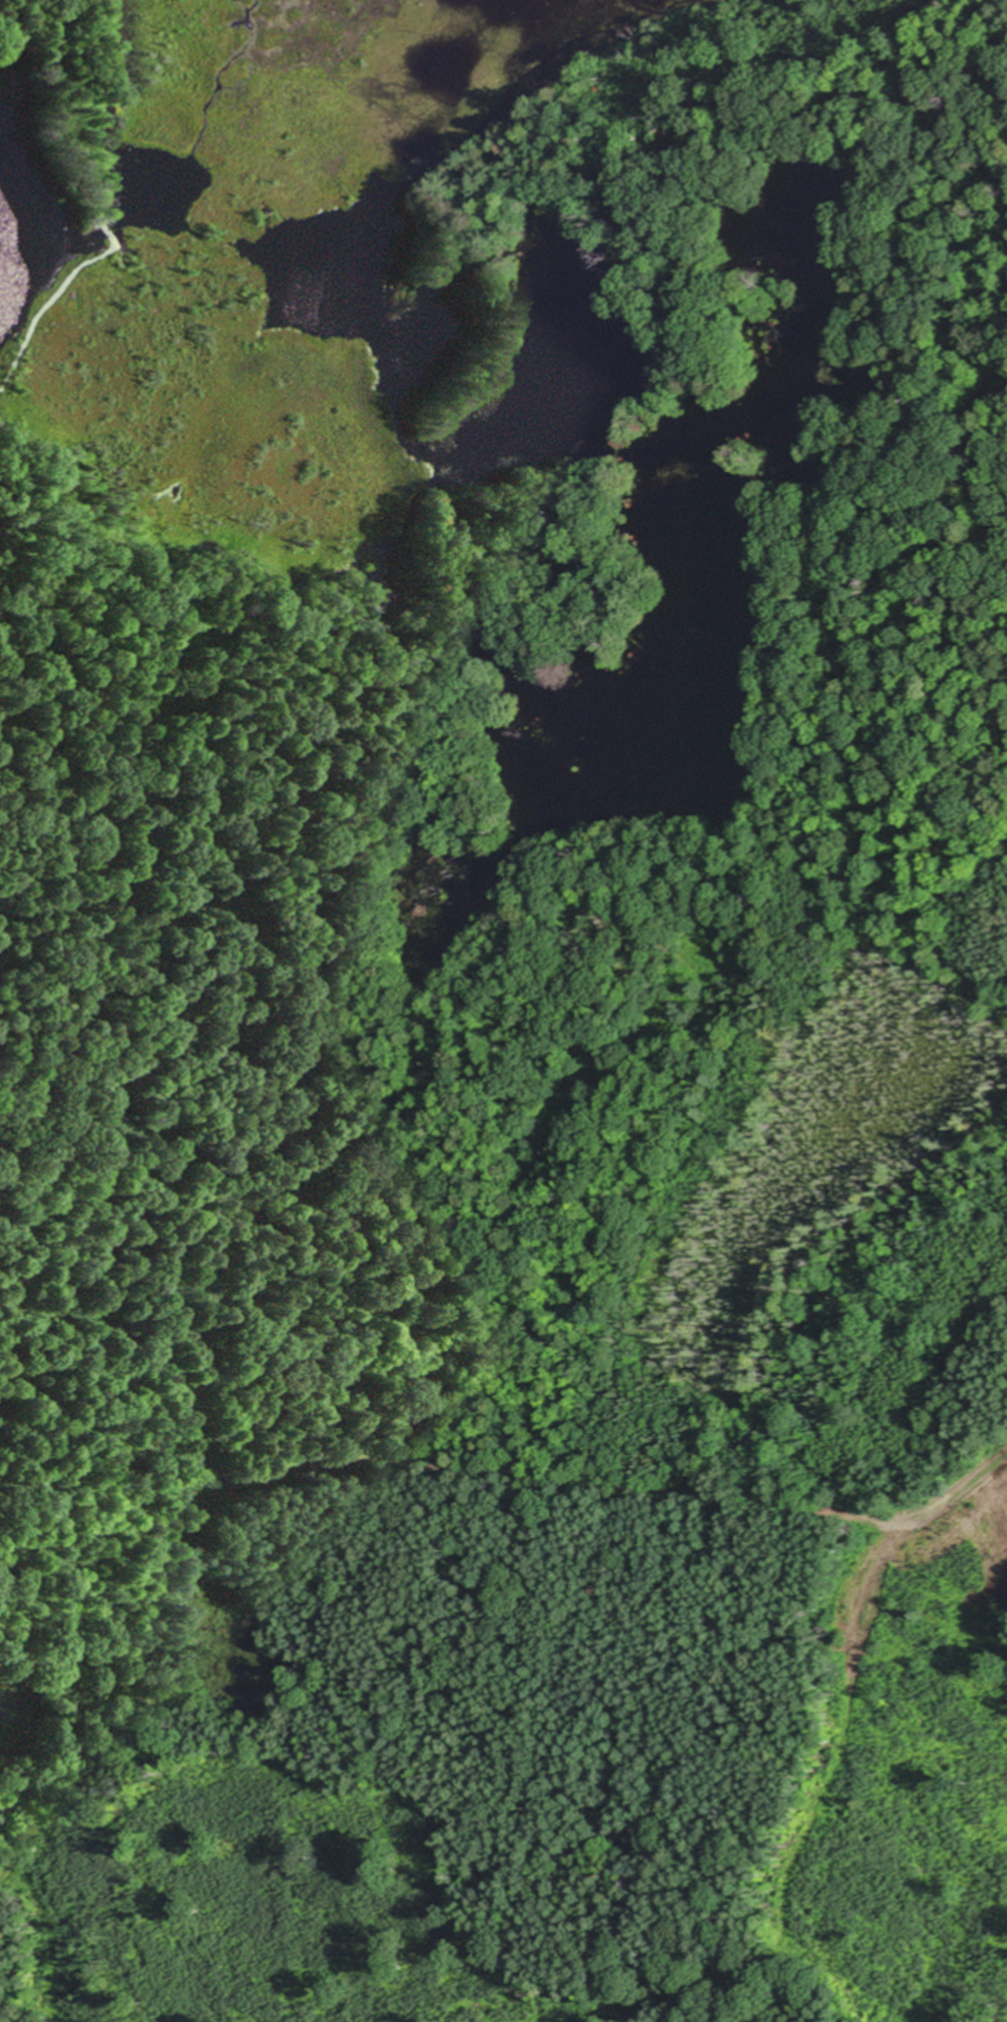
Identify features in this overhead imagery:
road: (95, 207)
road: (452, 1029)
road: (249, 1484)
road: (807, 1508)

